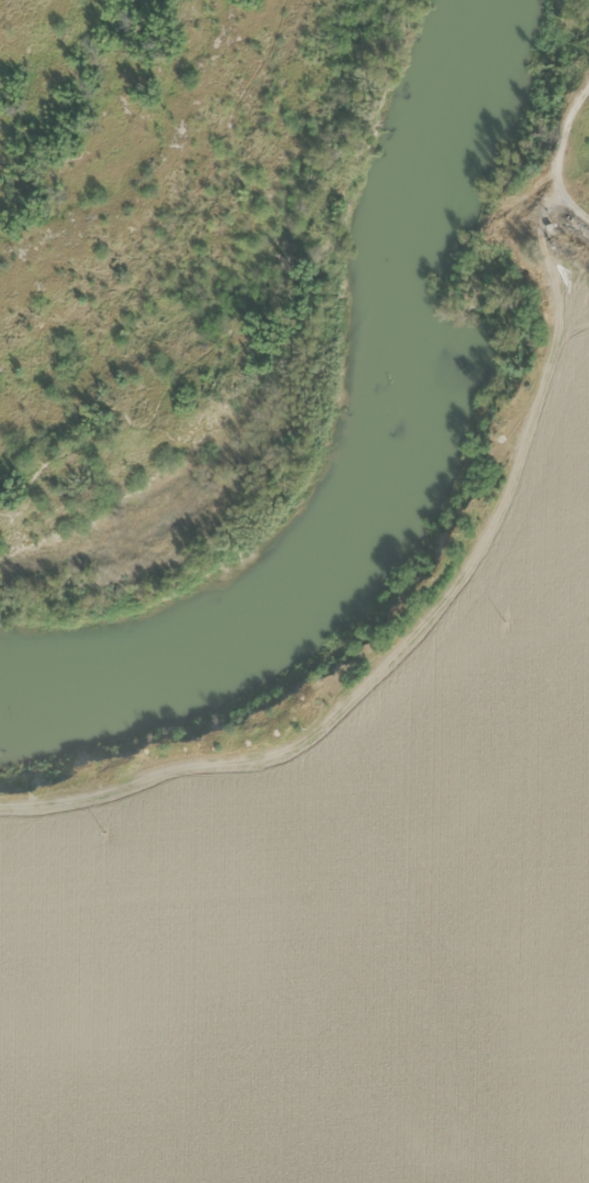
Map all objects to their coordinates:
river: (328, 362)

